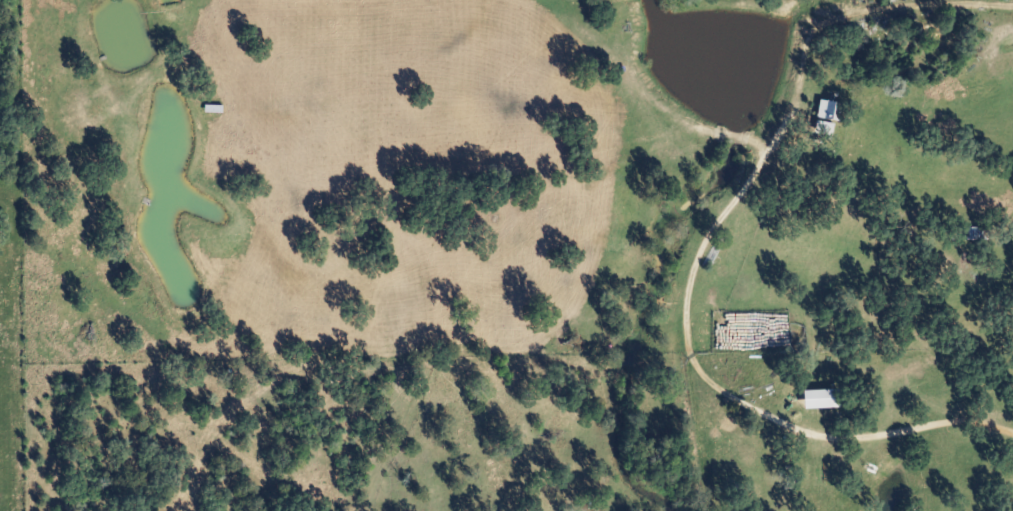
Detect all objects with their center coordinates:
building: (822, 109)
building: (817, 130)
building: (967, 232)

